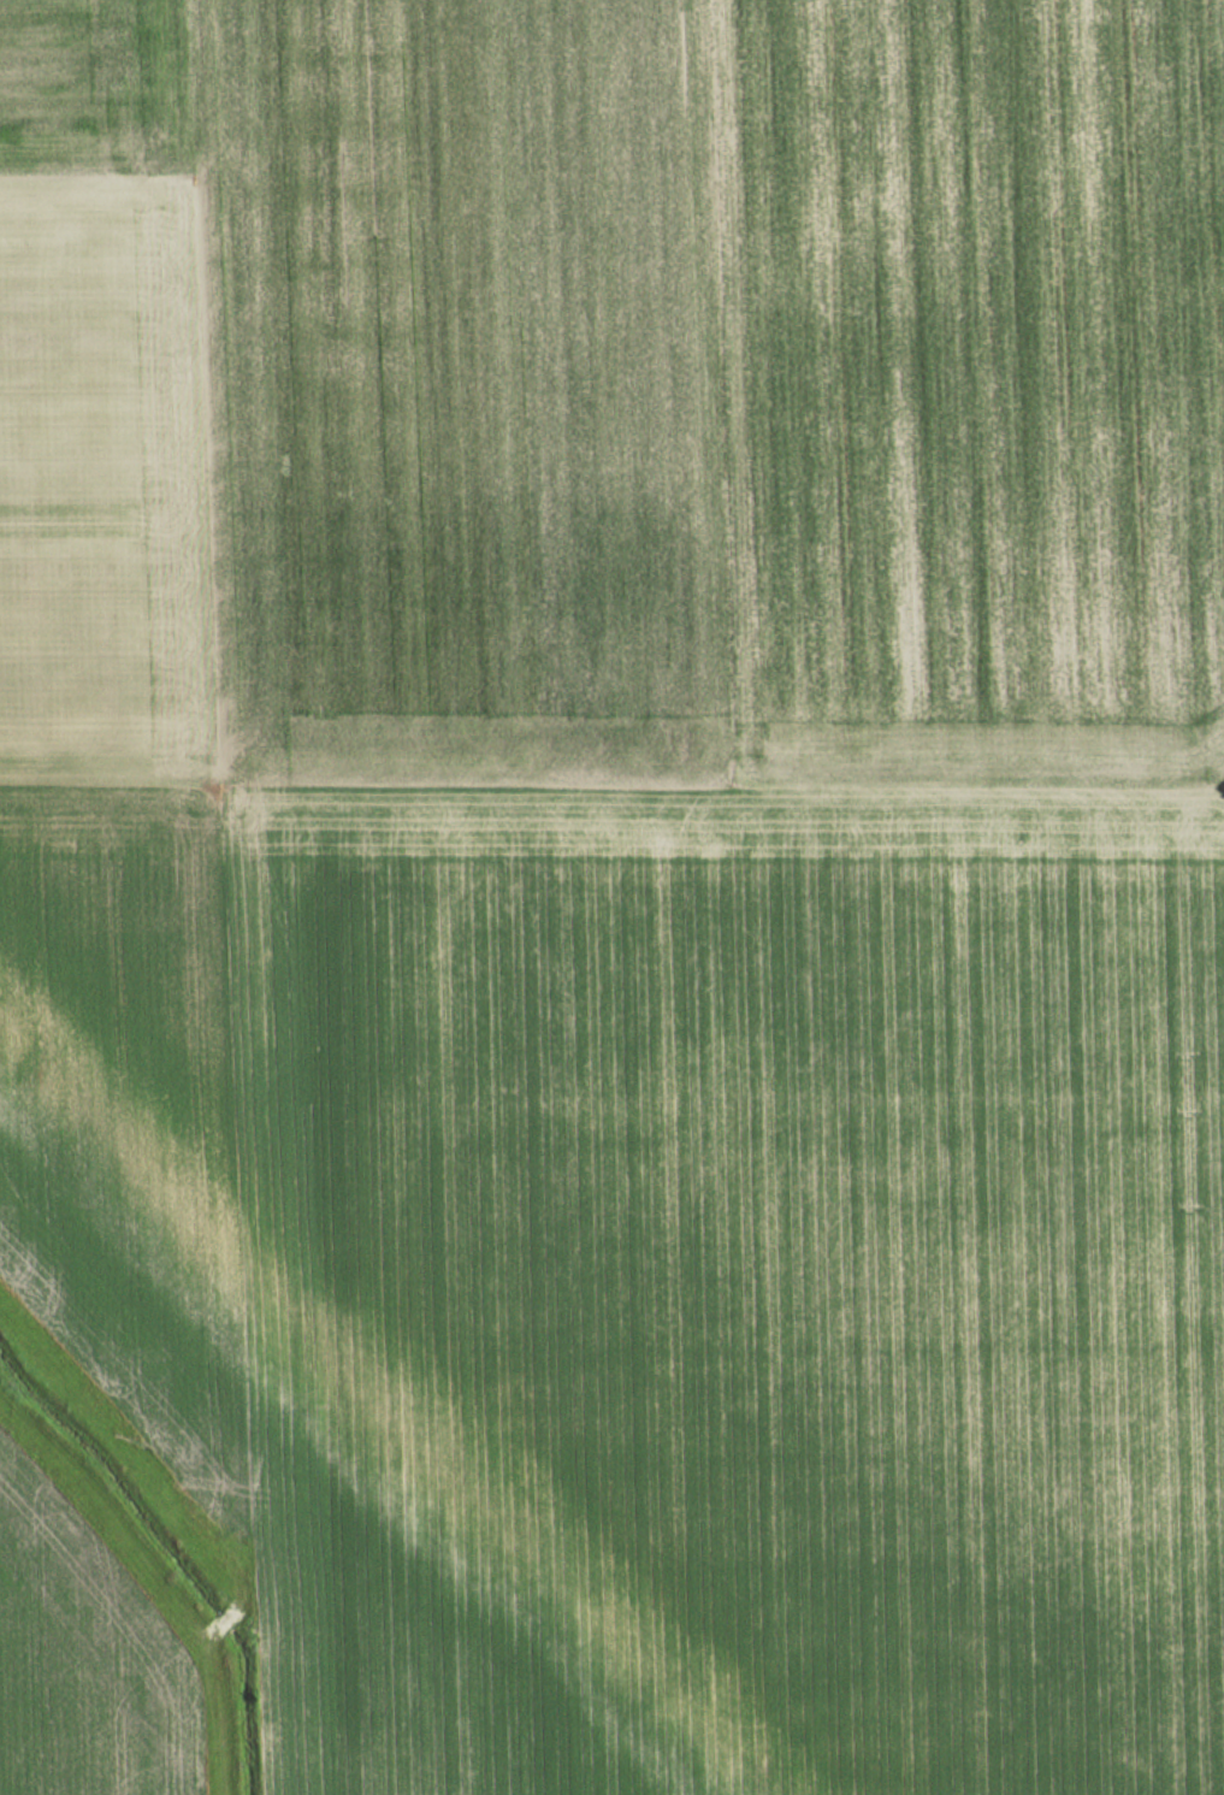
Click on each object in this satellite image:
crop: (97, 91)
crop: (719, 391)
crop: (122, 810)
crop: (737, 1288)
crop: (82, 1667)

